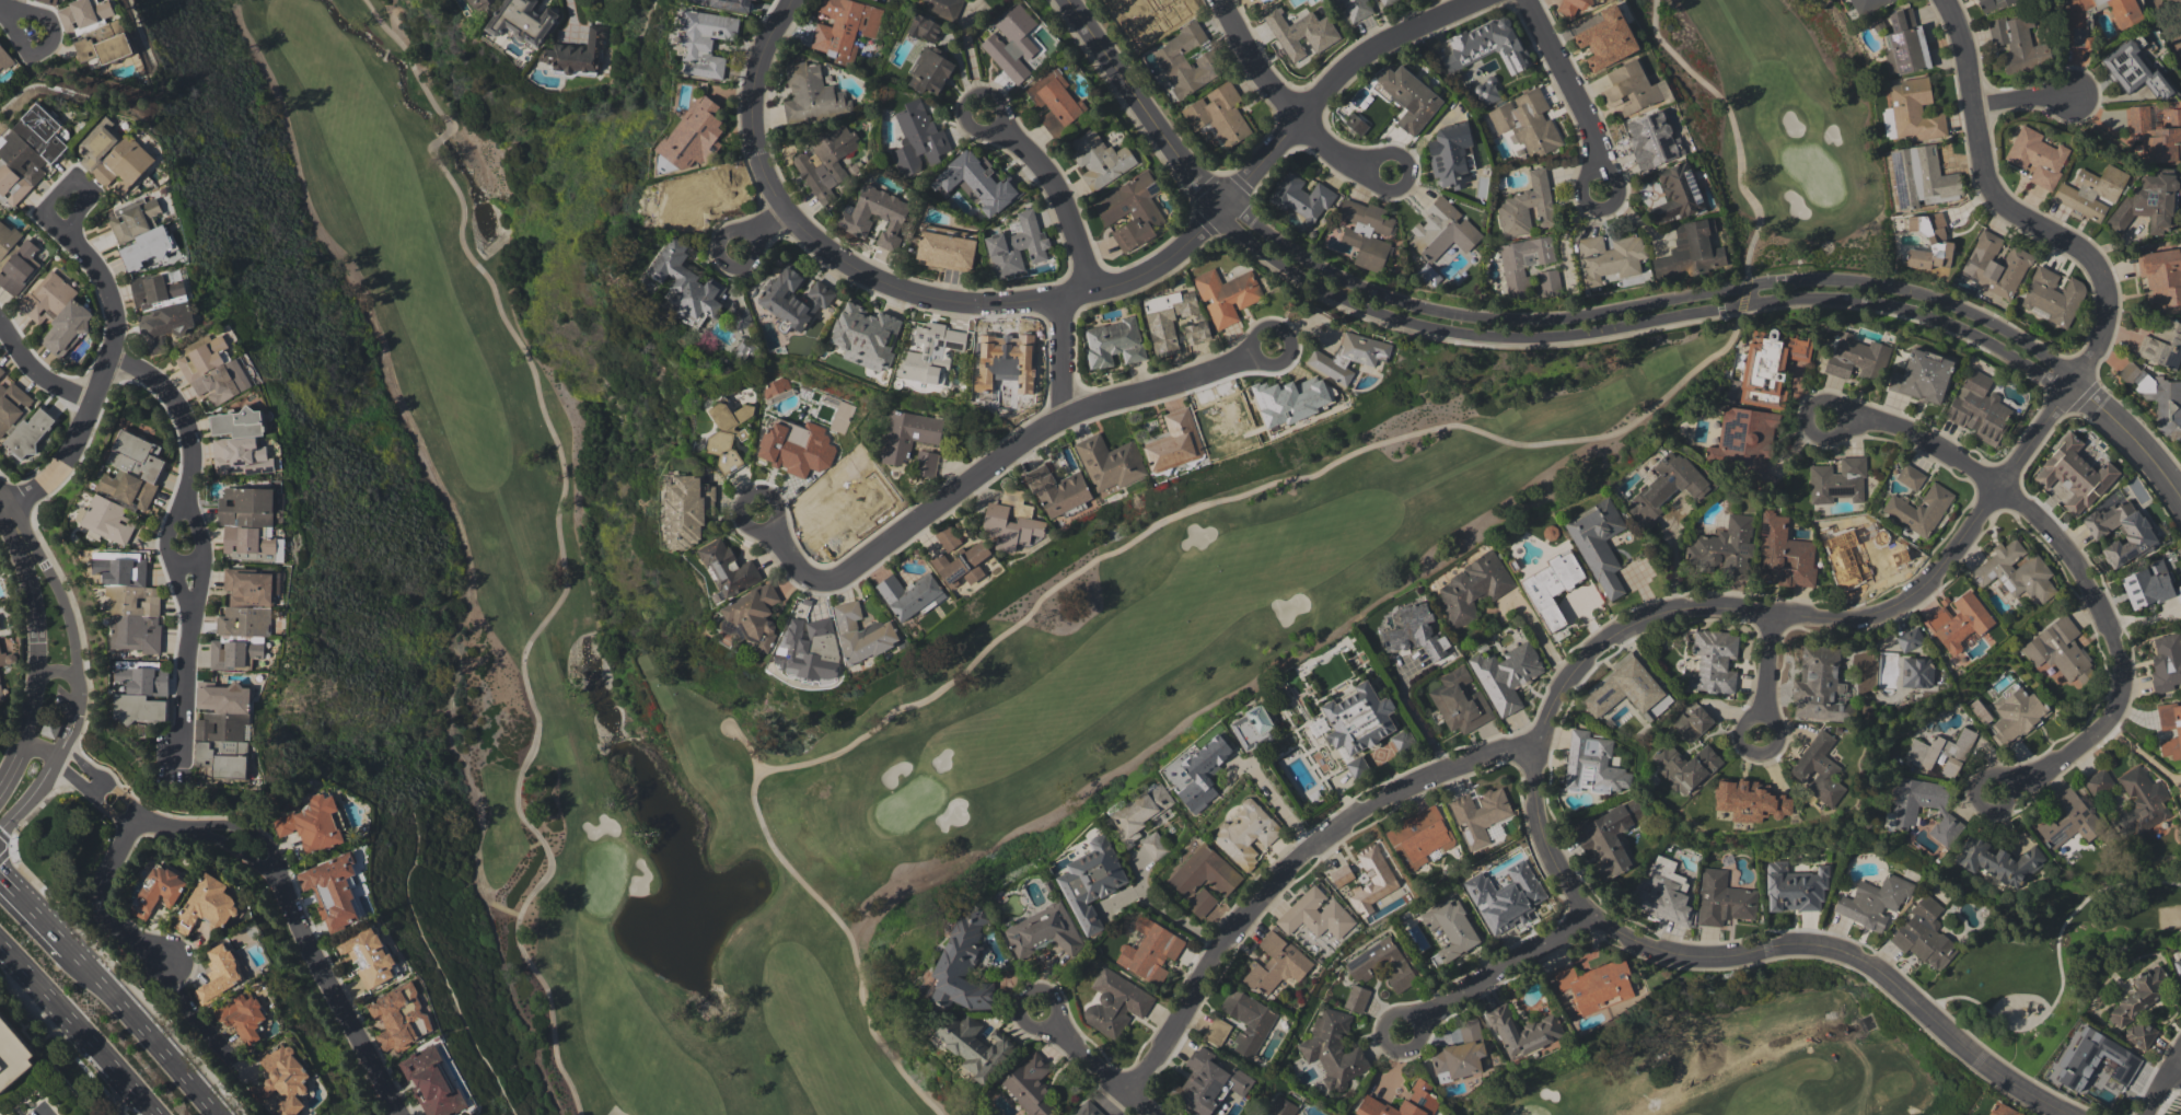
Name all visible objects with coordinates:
building: (757, 0)
building: (1263, 0)
building: (50, 1)
building: (1385, 1)
building: (480, 3)
building: (732, 4)
building: (1991, 4)
building: (1869, 5)
building: (944, 7)
building: (1573, 7)
building: (1355, 9)
building: (2111, 9)
road: (8, 13)
road: (16, 19)
building: (523, 20)
park: (2169, 22)
building: (844, 27)
building: (926, 28)
building: (96, 30)
building: (1300, 32)
building: (1606, 38)
building: (706, 40)
building: (1906, 42)
building: (1012, 43)
building: (2018, 44)
building: (1488, 46)
building: (578, 53)
building: (4, 61)
road: (410, 62)
building: (1155, 68)
building: (2133, 70)
building: (930, 71)
road: (1567, 81)
building: (1633, 89)
building: (812, 95)
road: (1287, 96)
building: (1409, 97)
road: (2022, 100)
building: (1055, 101)
road: (967, 102)
road: (1146, 103)
road: (757, 108)
building: (1914, 111)
building: (1219, 114)
building: (1527, 121)
road: (1730, 121)
building: (1888, 123)
building: (1356, 124)
building: (2156, 132)
road: (443, 133)
building: (693, 133)
building: (917, 138)
building: (1651, 139)
building: (1450, 154)
building: (114, 156)
building: (2037, 156)
building: (1100, 160)
building: (826, 162)
road: (1372, 166)
road: (1601, 166)
building: (1928, 177)
building: (976, 183)
road: (66, 189)
building: (1677, 193)
building: (2090, 193)
road: (1059, 198)
building: (1301, 198)
building: (2149, 201)
building: (1527, 207)
building: (1130, 211)
building: (877, 216)
road: (770, 227)
building: (1442, 230)
building: (140, 233)
building: (1366, 233)
road: (754, 235)
building: (7, 240)
building: (1929, 245)
building: (1017, 246)
building: (1691, 251)
building: (1609, 257)
road: (1169, 260)
building: (1523, 262)
building: (1994, 265)
building: (19, 267)
building: (2161, 276)
building: (1548, 281)
building: (686, 283)
building: (159, 289)
building: (1227, 295)
building: (2053, 297)
building: (794, 298)
road: (1648, 303)
building: (57, 312)
building: (1168, 318)
road: (1635, 322)
building: (165, 324)
building: (1197, 332)
building: (867, 336)
road: (1290, 339)
building: (1113, 342)
building: (2163, 342)
building: (746, 347)
building: (930, 352)
building: (1348, 356)
road: (1059, 358)
building: (1856, 358)
building: (1006, 361)
building: (1768, 367)
building: (213, 370)
road: (39, 372)
building: (1922, 376)
road: (103, 378)
building: (775, 387)
building: (2157, 397)
building: (1289, 400)
building: (11, 404)
building: (1979, 407)
building: (842, 417)
road: (1842, 419)
building: (30, 433)
building: (728, 433)
building: (908, 434)
road: (2131, 435)
building: (1744, 438)
building: (1174, 442)
building: (239, 443)
building: (797, 446)
road: (990, 462)
building: (926, 463)
building: (1110, 463)
building: (132, 469)
building: (2072, 476)
building: (1910, 477)
building: (1837, 480)
building: (1667, 487)
road: (1996, 488)
building: (1058, 490)
road: (1240, 495)
road: (749, 498)
road: (3, 507)
building: (688, 510)
building: (1918, 510)
building: (107, 520)
building: (1012, 521)
building: (250, 524)
building: (2121, 531)
road: (196, 532)
building: (948, 538)
building: (1598, 544)
park: (1264, 547)
building: (1724, 547)
road: (169, 553)
building: (1898, 553)
building: (1783, 554)
building: (1843, 559)
road: (185, 561)
building: (962, 566)
road: (2076, 567)
building: (728, 568)
building: (2016, 572)
building: (2149, 585)
building: (1552, 588)
building: (1470, 589)
building: (910, 594)
building: (130, 602)
building: (755, 617)
building: (243, 619)
building: (1958, 620)
road: (540, 625)
road: (37, 626)
road: (70, 627)
building: (862, 632)
building: (1414, 632)
building: (1910, 639)
building: (808, 648)
building: (2058, 651)
building: (7, 658)
building: (1714, 661)
building: (2167, 662)
road: (1770, 664)
road: (59, 669)
building: (1916, 672)
building: (1506, 675)
building: (1820, 686)
building: (1624, 688)
building: (141, 694)
building: (0, 696)
building: (1460, 701)
building: (1979, 711)
building: (2017, 715)
road: (1413, 716)
road: (1763, 718)
building: (1358, 719)
building: (1692, 722)
building: (1252, 725)
building: (2170, 729)
building: (223, 730)
building: (1402, 739)
building: (1940, 753)
road: (2141, 755)
road: (12, 765)
building: (1592, 765)
building: (1685, 766)
building: (1358, 767)
building: (1818, 769)
building: (1198, 771)
building: (2098, 781)
road: (2010, 783)
road: (32, 797)
building: (1750, 800)
road: (1277, 804)
building: (1139, 812)
building: (1901, 813)
building: (1480, 814)
building: (2068, 820)
building: (313, 824)
road: (1536, 833)
building: (1245, 834)
building: (1420, 836)
building: (1610, 838)
building: (1153, 845)
building: (1998, 861)
road: (268, 864)
road: (1290, 864)
building: (1204, 873)
building: (1341, 875)
building: (1372, 880)
building: (1091, 881)
building: (1795, 887)
building: (159, 891)
building: (333, 891)
building: (1663, 891)
building: (1505, 896)
road: (97, 898)
building: (1722, 899)
building: (1873, 902)
building: (208, 904)
building: (1203, 905)
road: (38, 910)
road: (830, 911)
road: (1172, 914)
building: (1315, 915)
building: (1450, 928)
building: (1043, 931)
building: (1925, 934)
building: (1150, 951)
road: (1844, 952)
building: (369, 956)
road: (1492, 960)
building: (1276, 964)
building: (1381, 964)
building: (962, 965)
building: (2178, 968)
building: (220, 972)
building: (1596, 985)
building: (2141, 995)
road: (1023, 997)
building: (1356, 999)
building: (1115, 1003)
road: (192, 1013)
building: (242, 1017)
building: (401, 1018)
building: (1248, 1020)
road: (1417, 1025)
road: (79, 1026)
building: (1217, 1031)
building: (1522, 1031)
road: (149, 1032)
building: (2141, 1034)
building: (976, 1046)
building: (1333, 1049)
building: (13, 1054)
building: (1460, 1054)
park: (1731, 1060)
building: (2092, 1060)
road: (1103, 1067)
building: (286, 1080)
building: (432, 1081)
building: (1209, 1082)
building: (1031, 1087)
road: (2162, 1088)
building: (1419, 1094)
building: (1283, 1107)
building: (1087, 1108)
building: (2002, 1110)
building: (2180, 1113)

